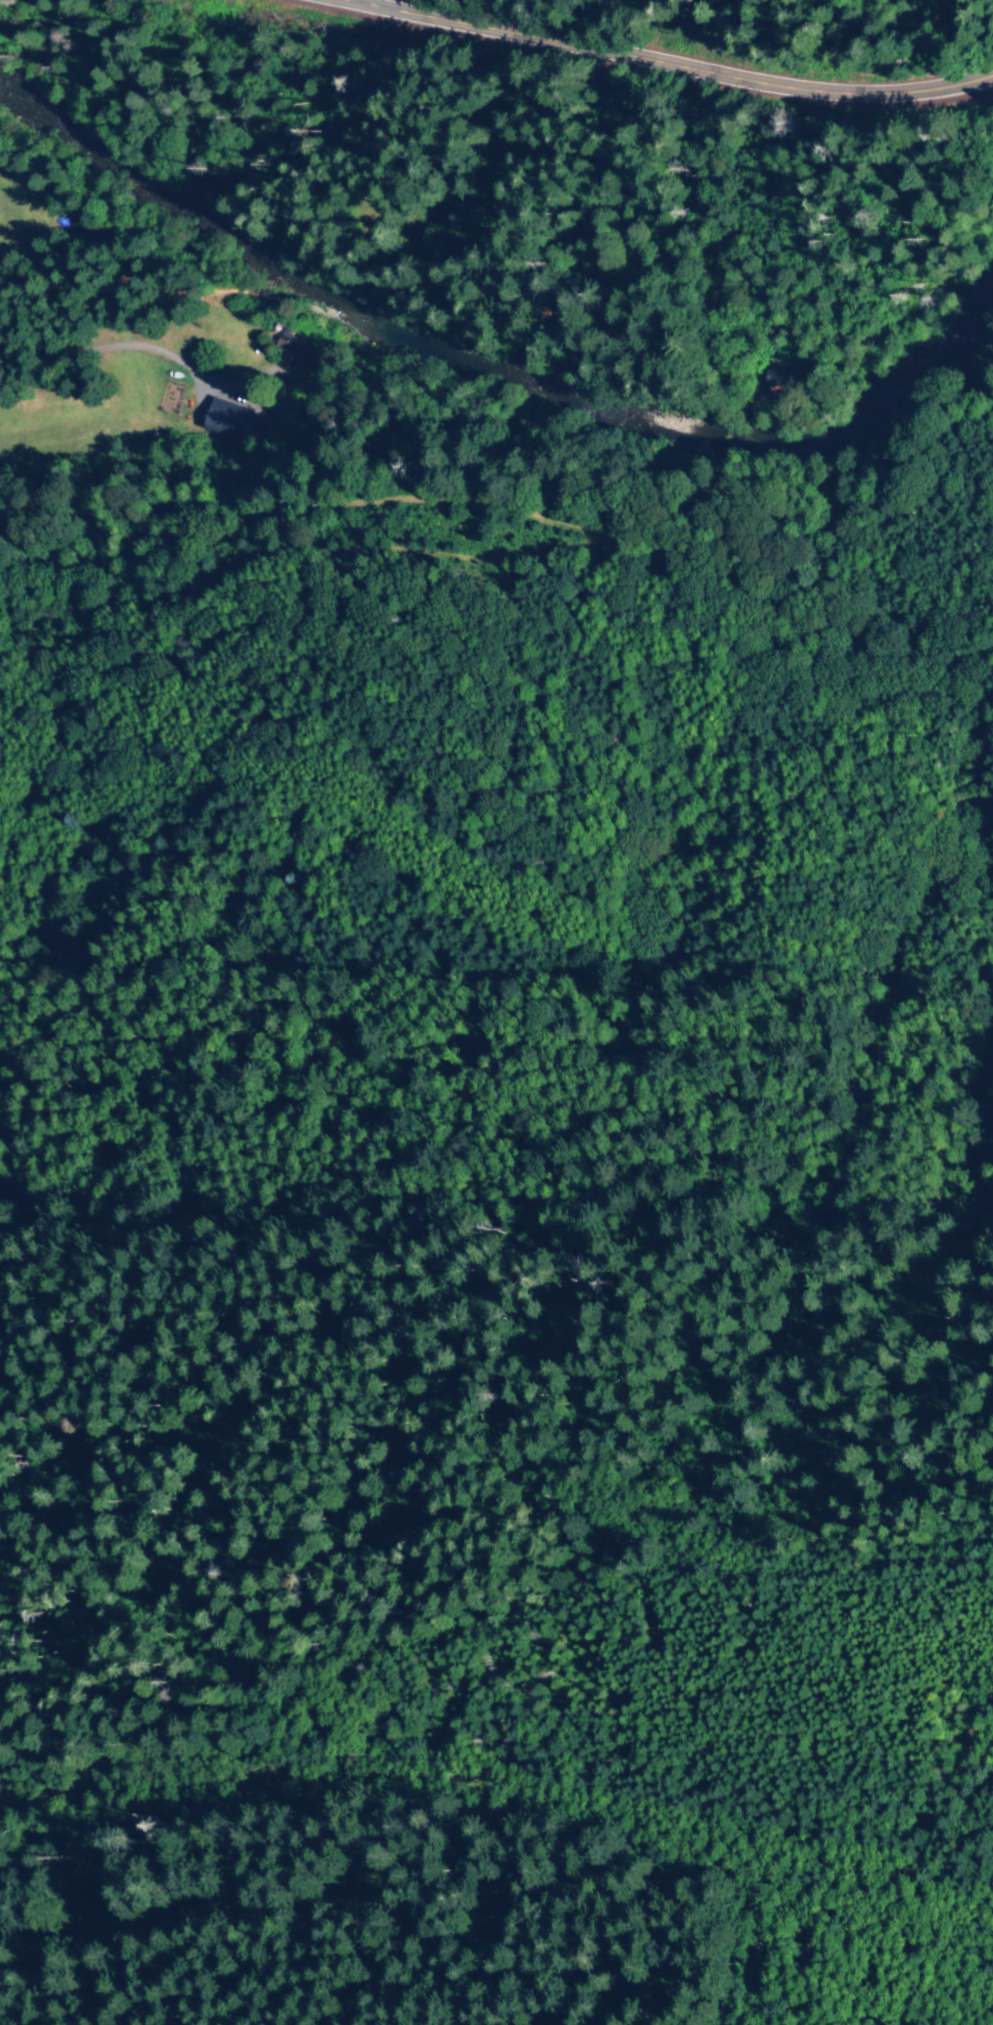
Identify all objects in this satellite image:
road: (354, 1)
road: (667, 67)
road: (173, 340)
river: (488, 370)
road: (511, 530)
road: (349, 1776)

